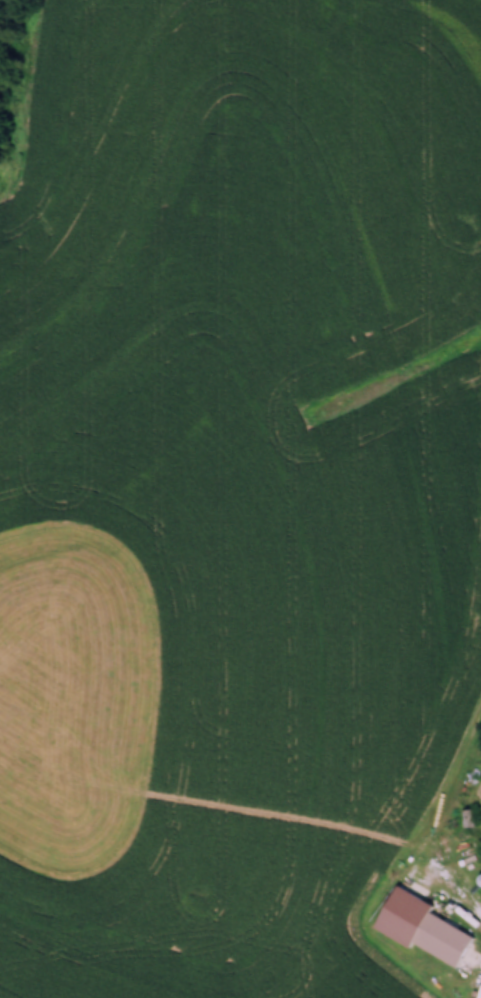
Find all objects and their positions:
building: (469, 818)
building: (444, 938)

